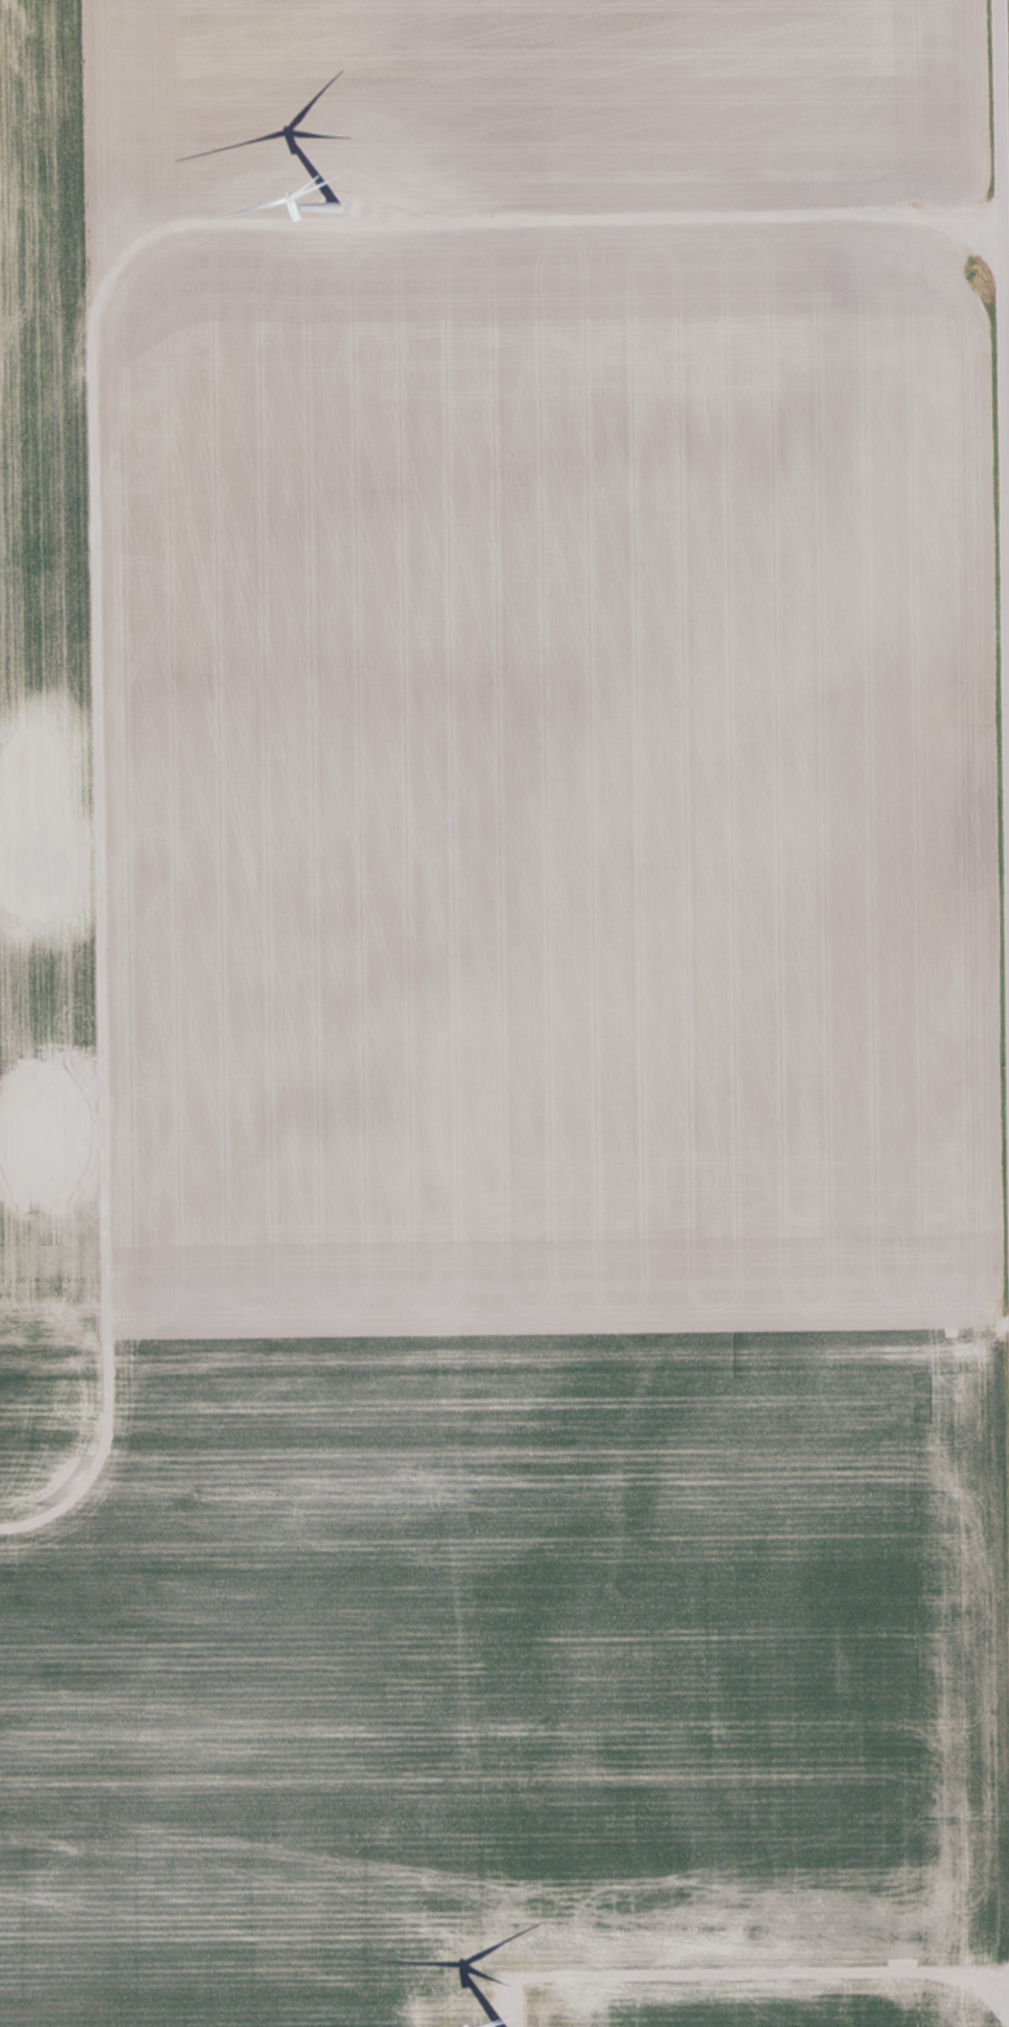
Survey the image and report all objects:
road: (1006, 109)
wind turbine: (329, 172)
road: (97, 479)
road: (782, 1980)

